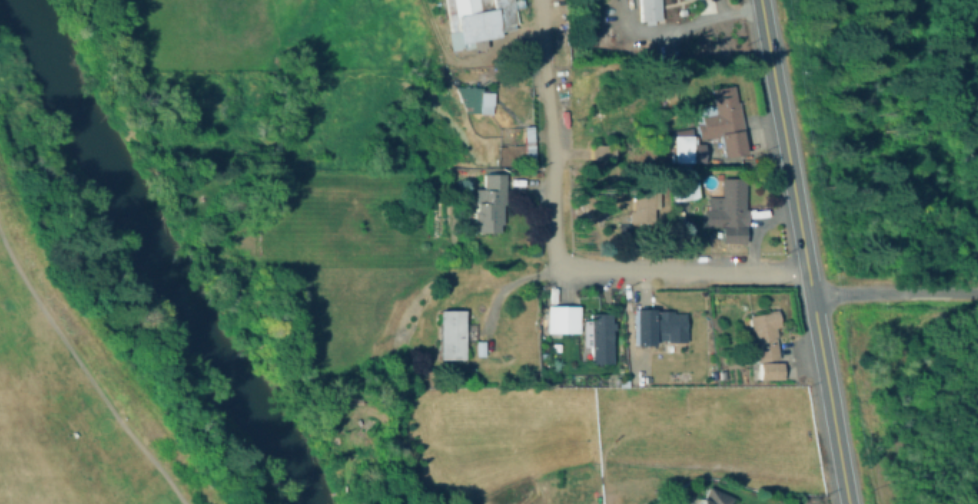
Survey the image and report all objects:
building: (650, 9)
building: (484, 19)
road: (687, 27)
road: (541, 31)
building: (484, 95)
building: (669, 97)
building: (721, 125)
building: (527, 142)
building: (596, 151)
building: (683, 151)
building: (685, 184)
building: (489, 203)
building: (644, 206)
building: (729, 210)
road: (757, 226)
road: (805, 252)
river: (166, 259)
road: (583, 271)
road: (509, 281)
road: (892, 292)
building: (563, 318)
building: (658, 322)
building: (452, 334)
building: (599, 337)
building: (763, 337)
building: (480, 348)
building: (771, 371)
road: (87, 373)
park: (72, 387)
building: (713, 497)

